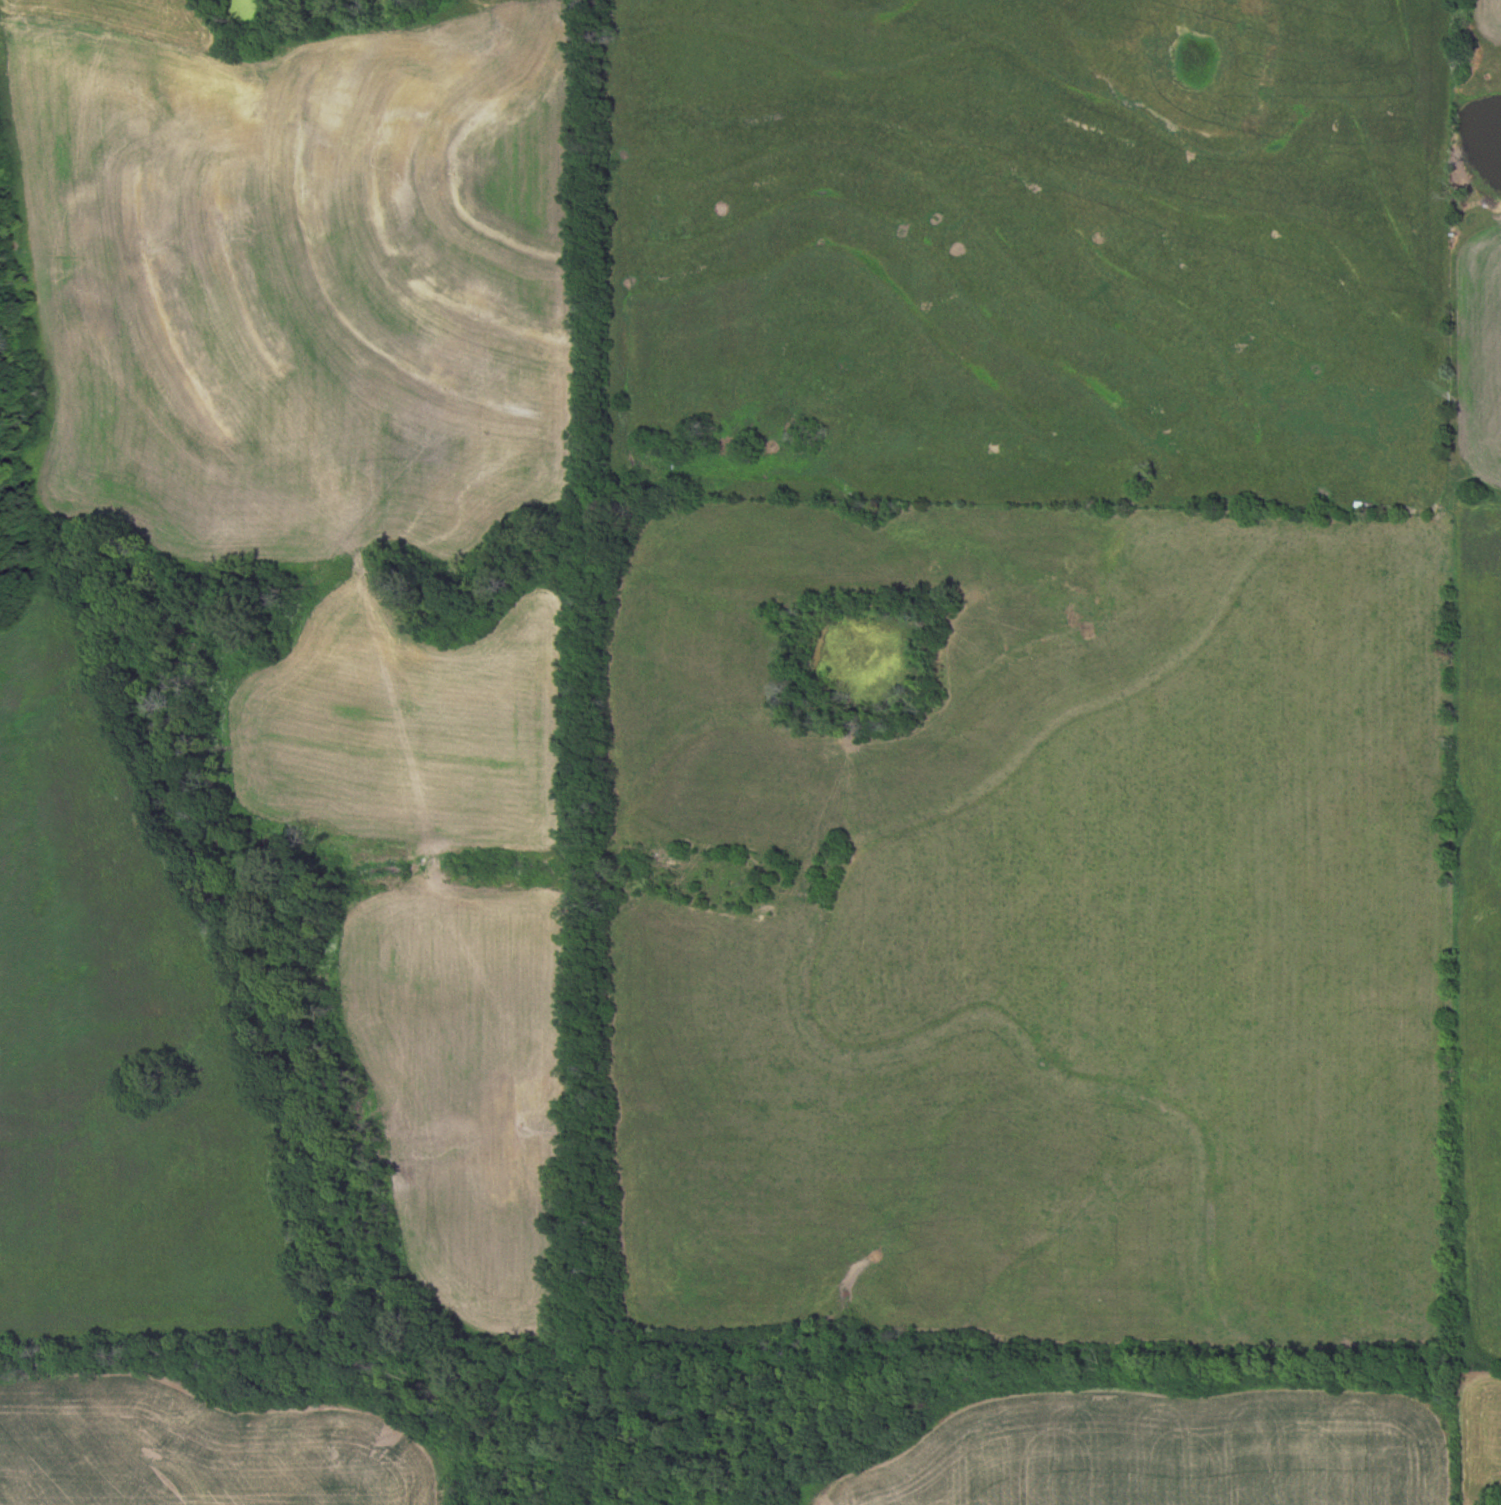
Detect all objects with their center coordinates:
road: (1489, 542)

